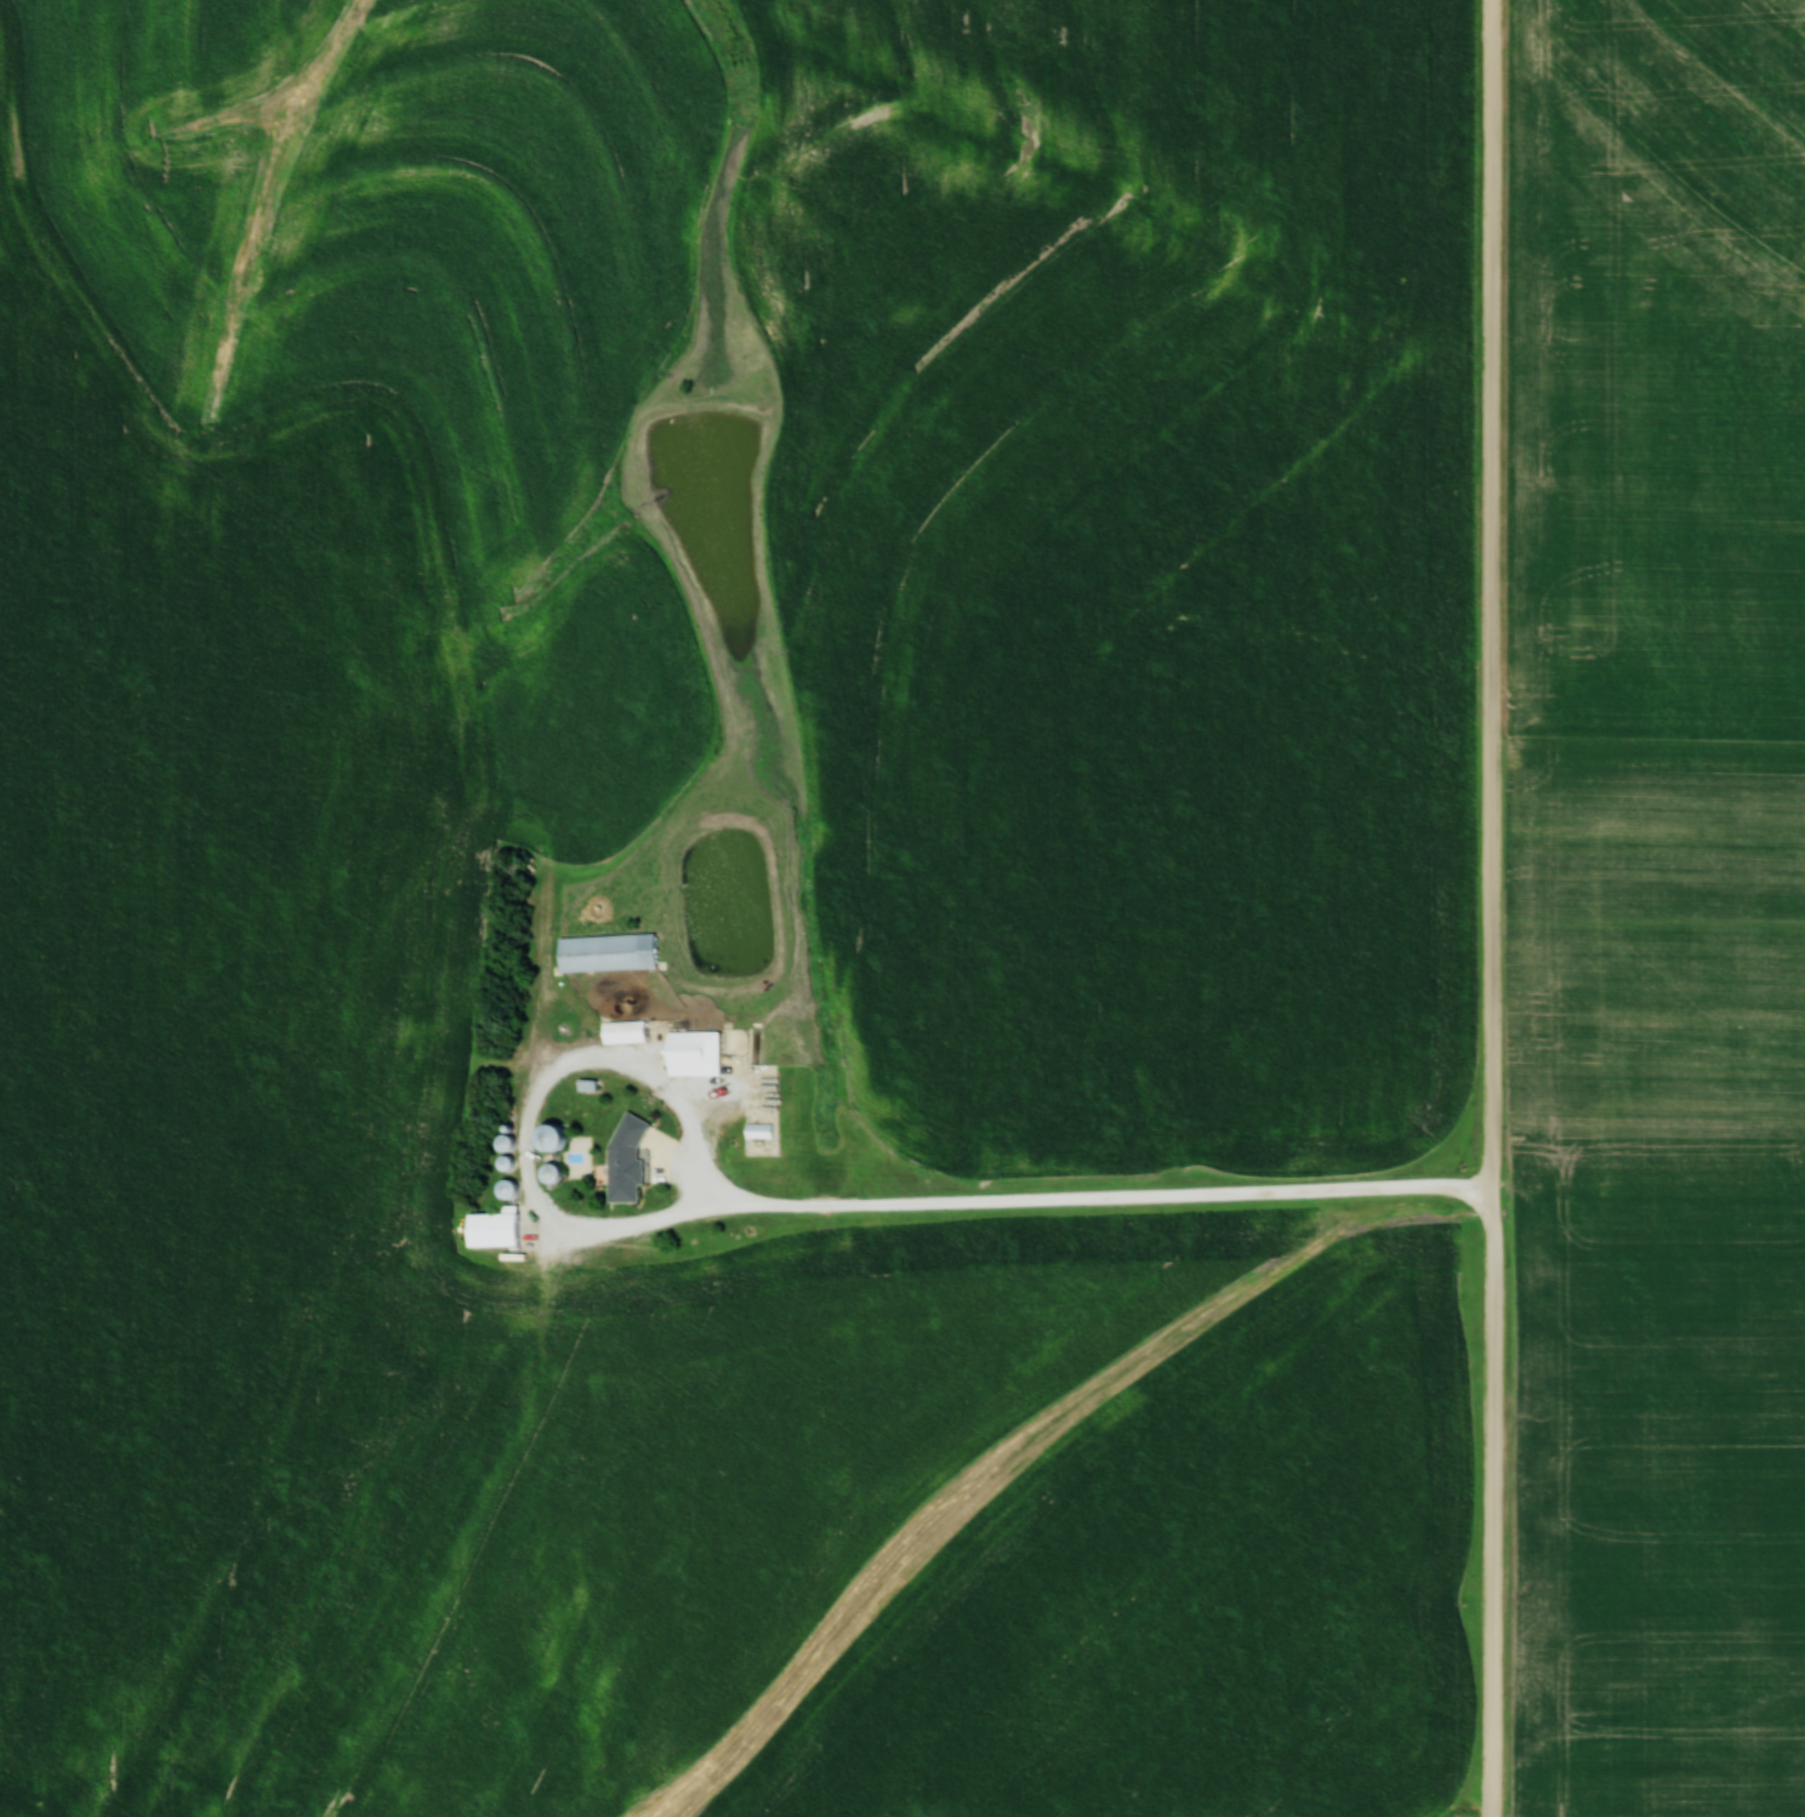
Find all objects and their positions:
road: (1498, 909)
building: (611, 951)
building: (628, 1031)
building: (700, 1052)
building: (568, 1155)
building: (632, 1157)
road: (1082, 1201)
building: (500, 1226)

